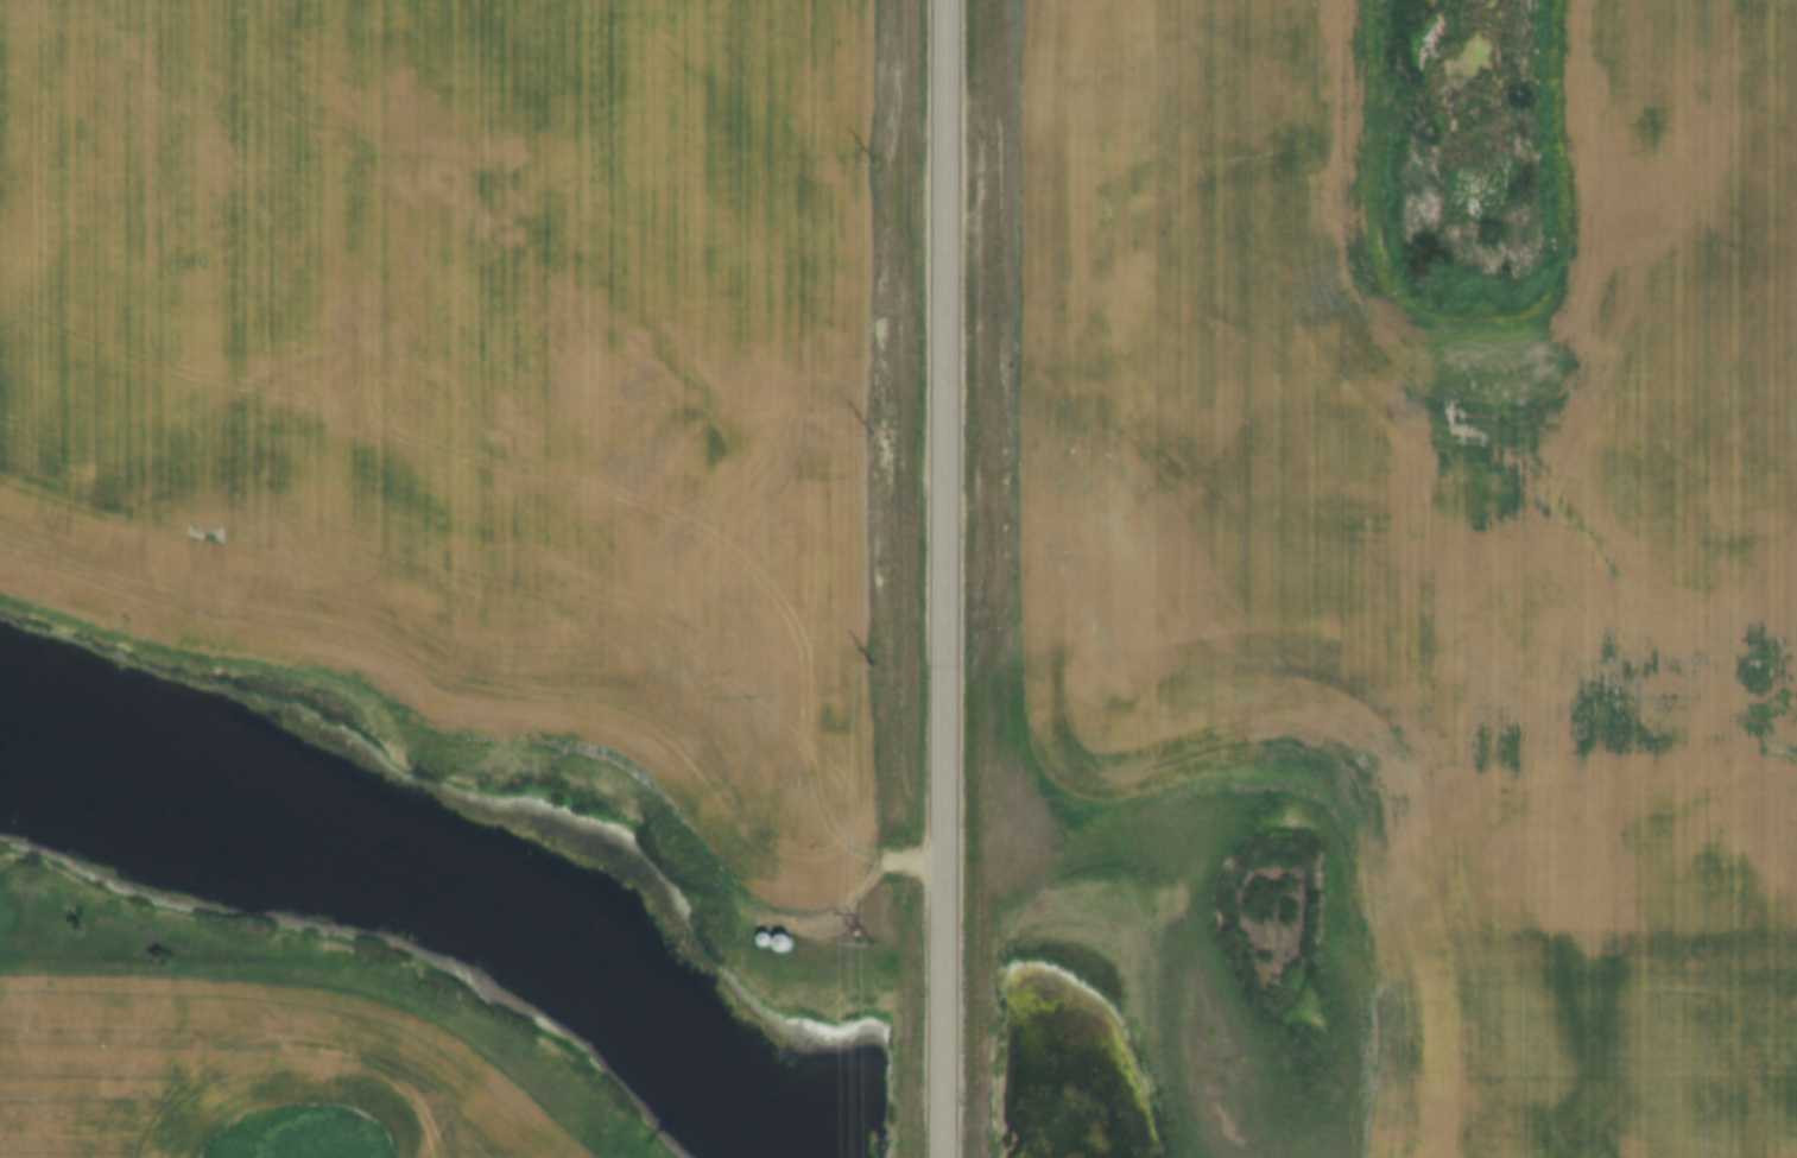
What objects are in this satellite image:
road: (945, 578)
building: (776, 942)

